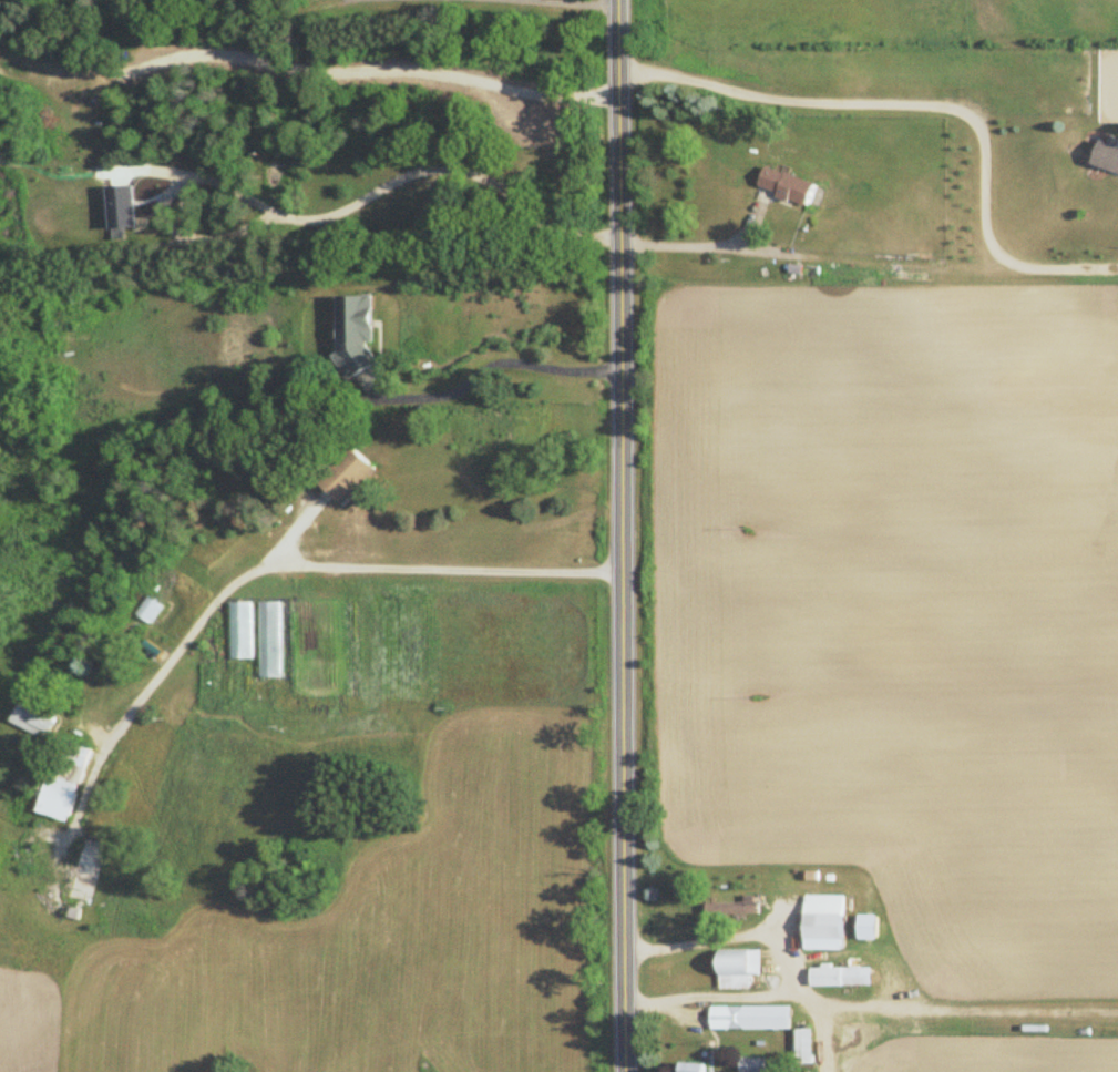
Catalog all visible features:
road: (592, 2)
road: (926, 102)
building: (1107, 154)
road: (397, 177)
building: (787, 185)
road: (702, 245)
building: (357, 333)
road: (486, 366)
building: (343, 471)
road: (622, 535)
road: (320, 564)
building: (34, 717)
building: (64, 784)
building: (736, 908)
building: (824, 922)
road: (771, 939)
building: (739, 968)
building: (841, 976)
road: (711, 996)
road: (966, 1012)
building: (751, 1017)
building: (804, 1047)
building: (752, 1064)
building: (695, 1068)

